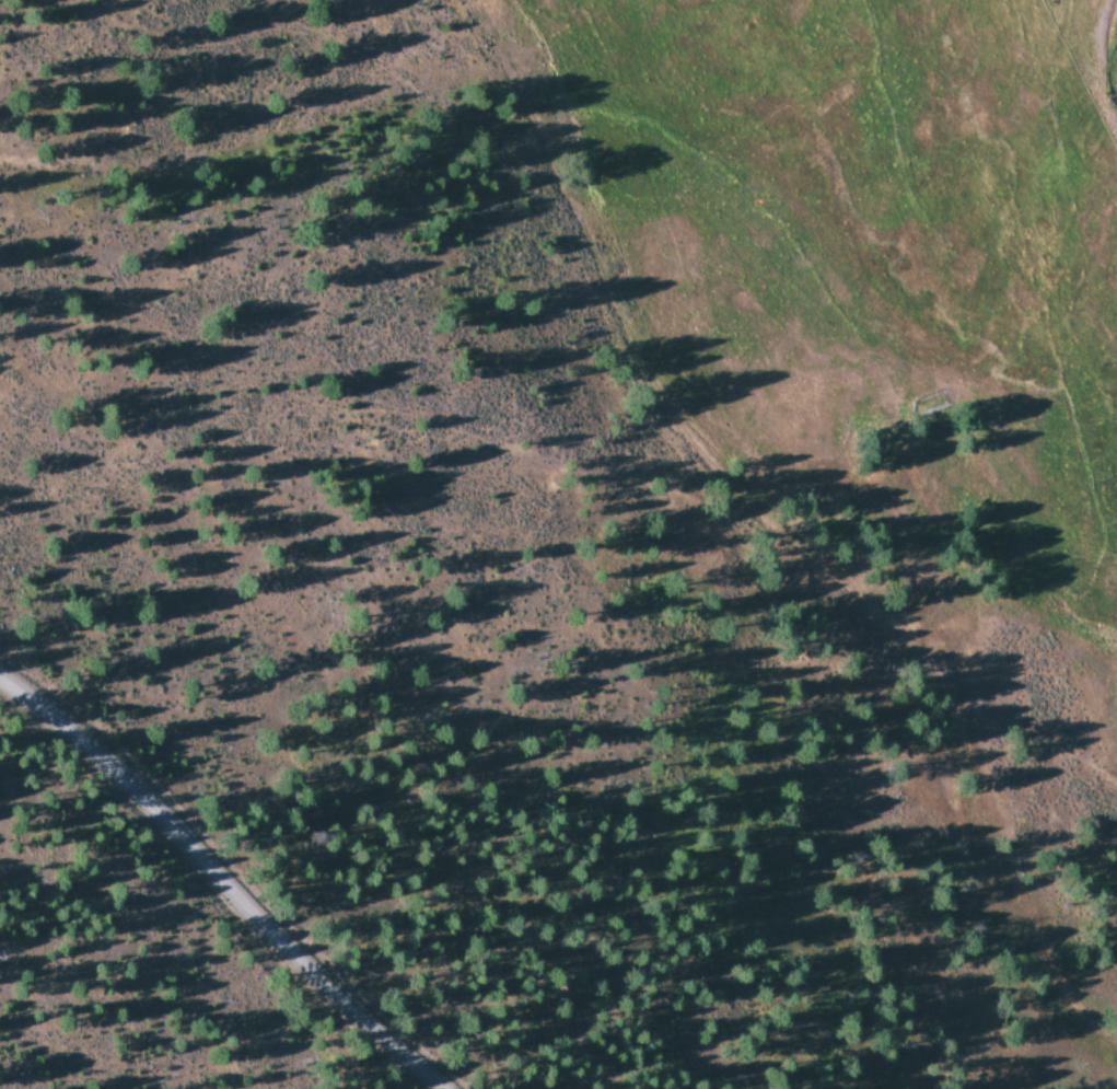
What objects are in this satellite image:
road: (210, 891)

